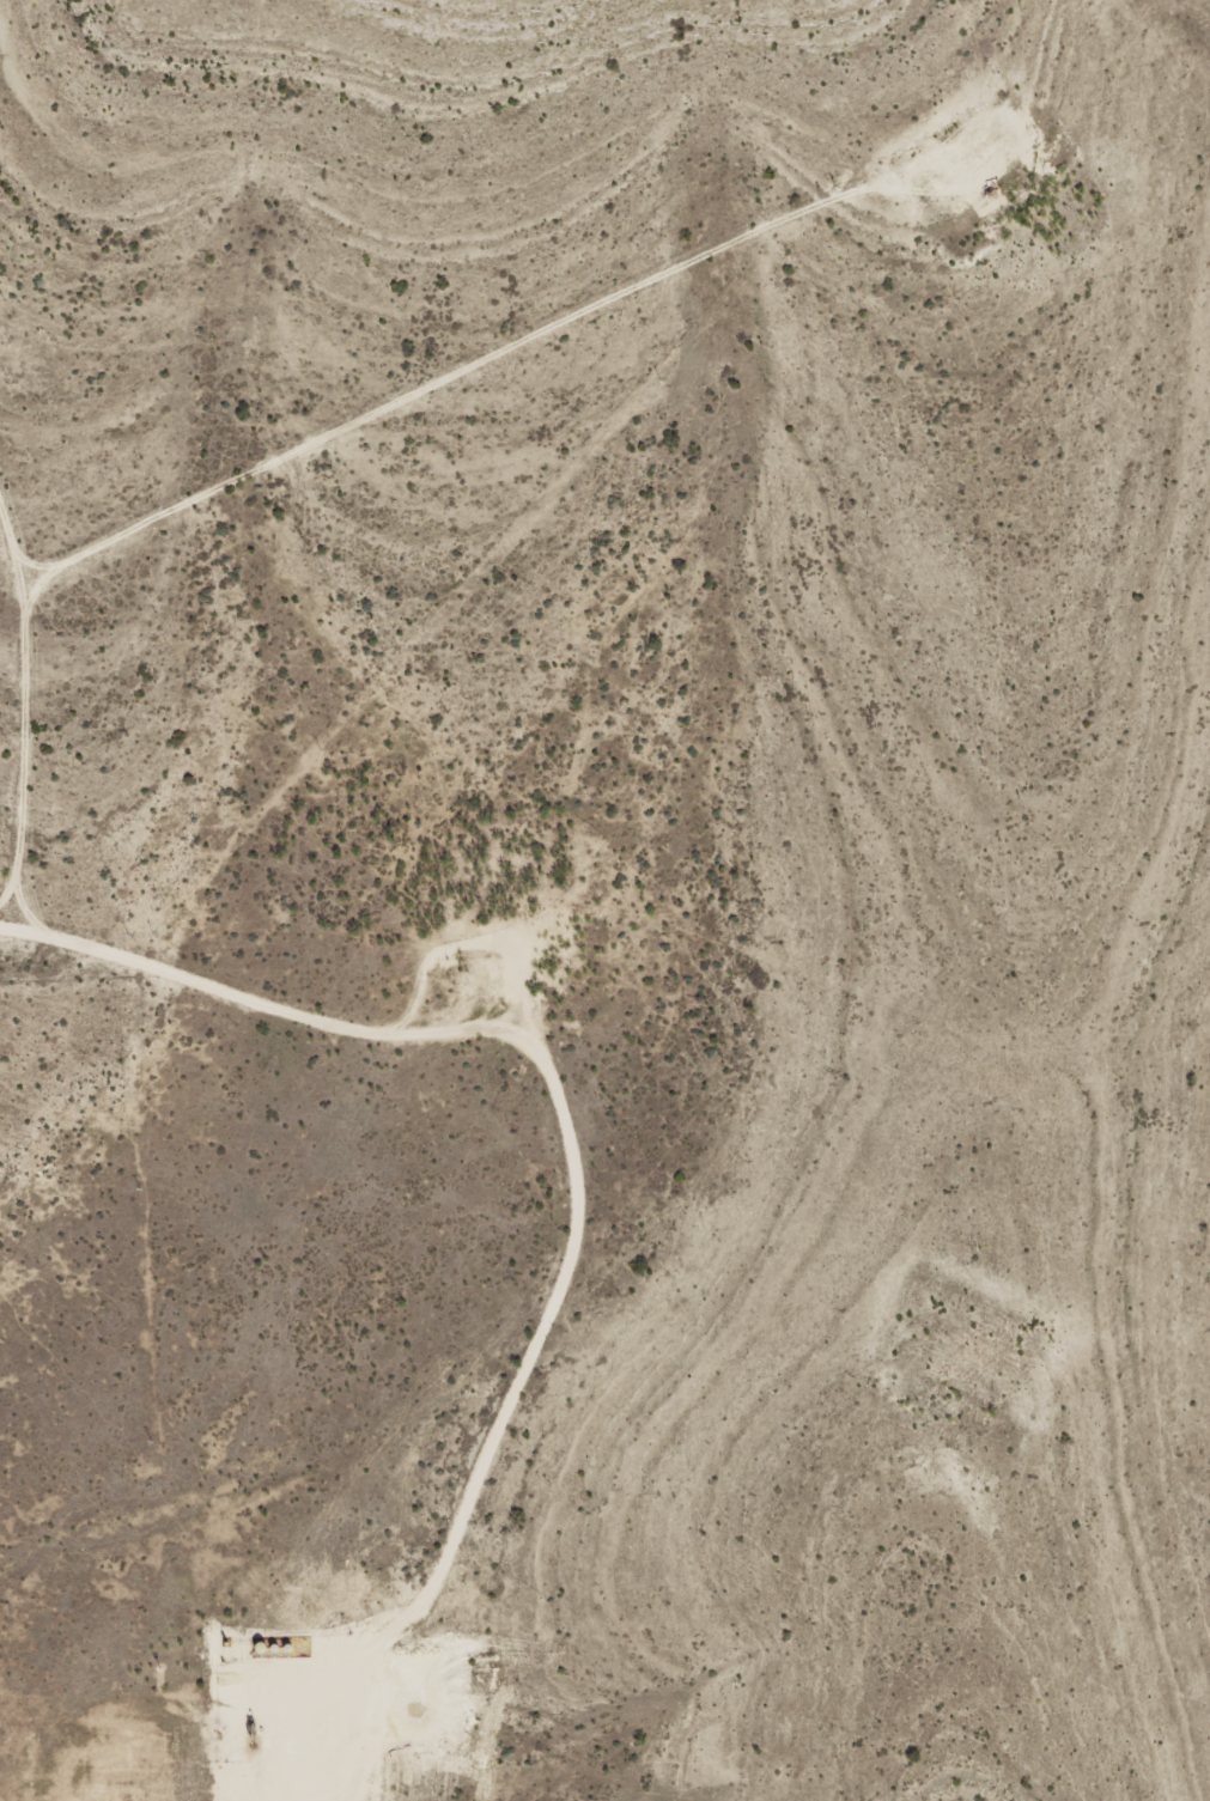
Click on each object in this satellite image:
road: (2, 712)

